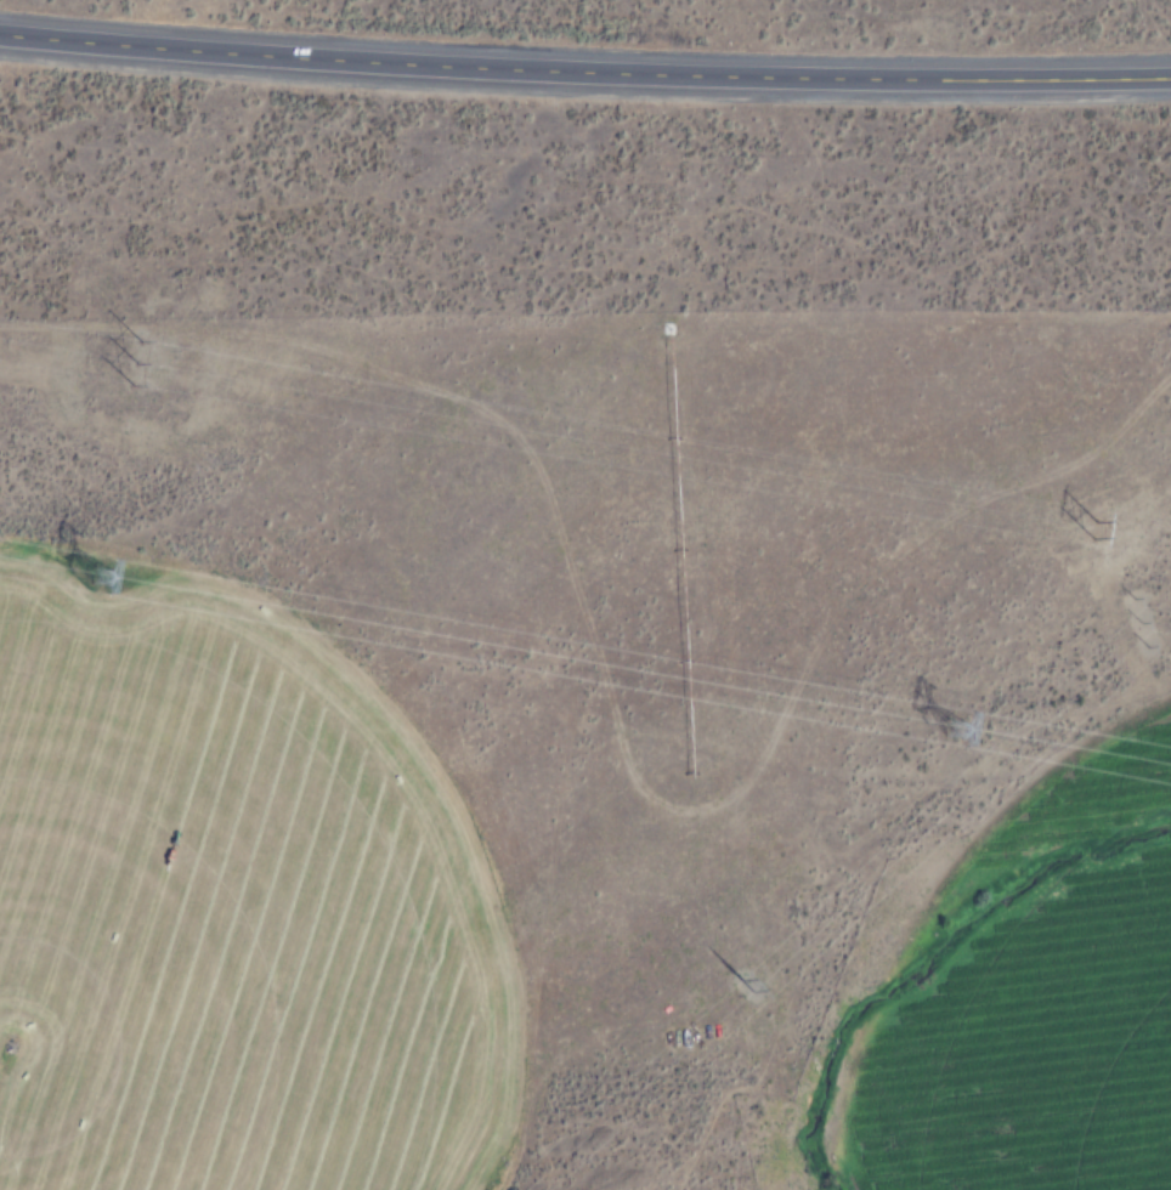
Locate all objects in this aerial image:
road: (584, 63)
power tower: (90, 572)
power tower: (1143, 630)
power tower: (952, 730)
power tower: (748, 986)

